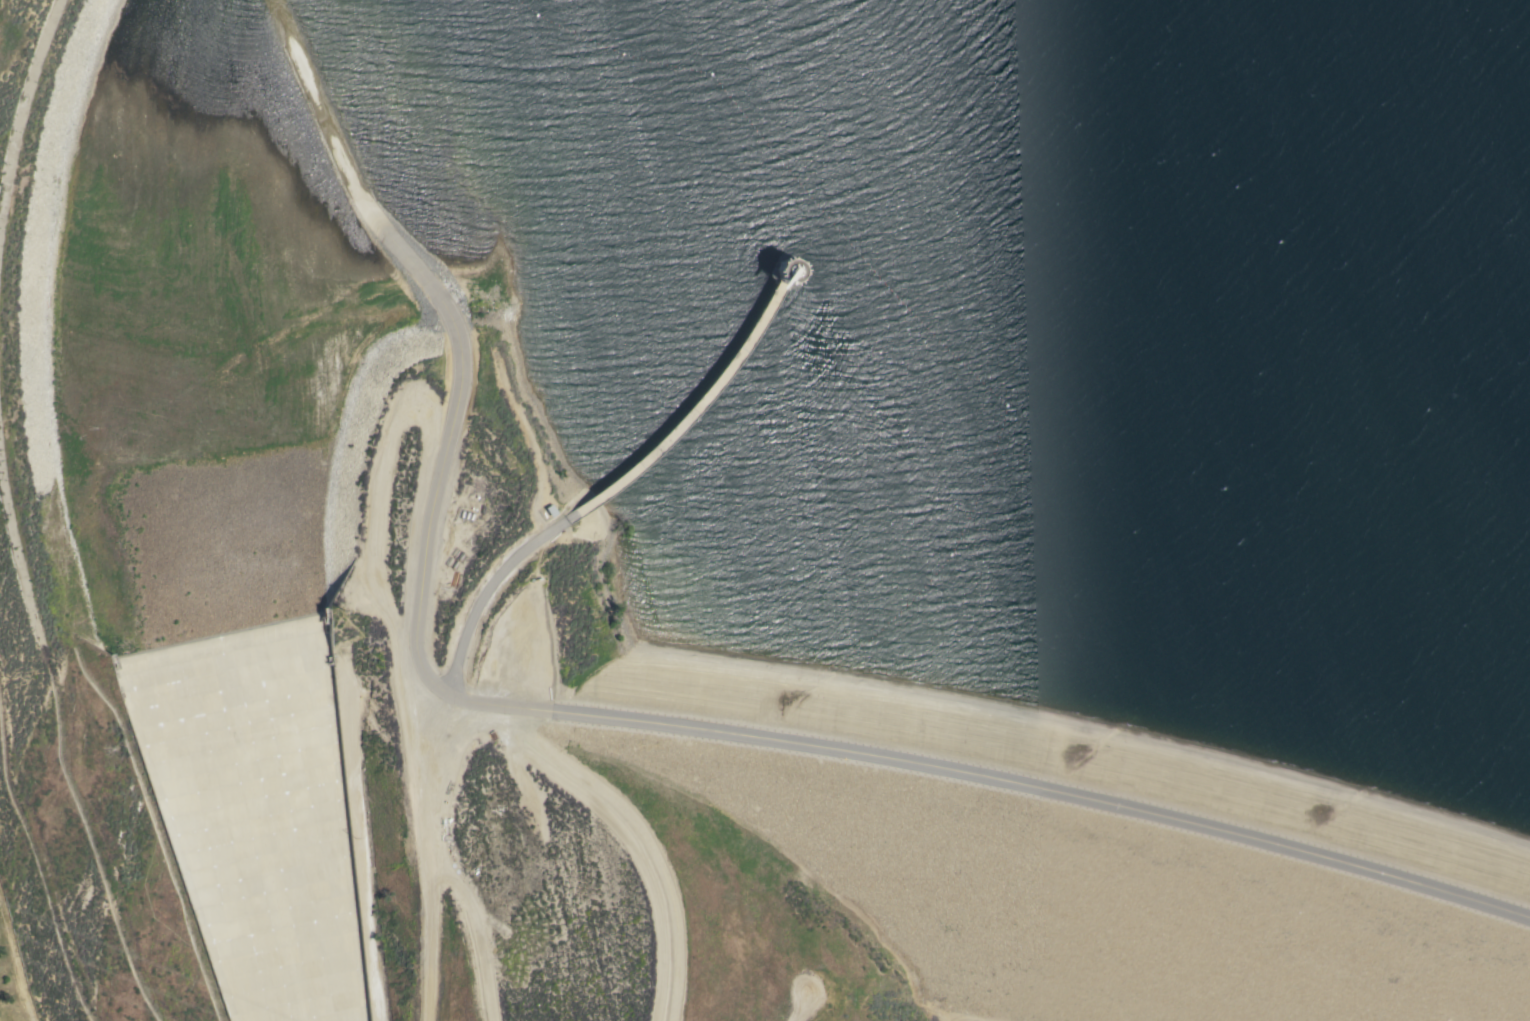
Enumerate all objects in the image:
park: (3, 8)
building: (786, 270)
road: (484, 607)
park: (1388, 612)
road: (607, 722)
dam: (1095, 857)
park: (34, 917)
road: (17, 964)

